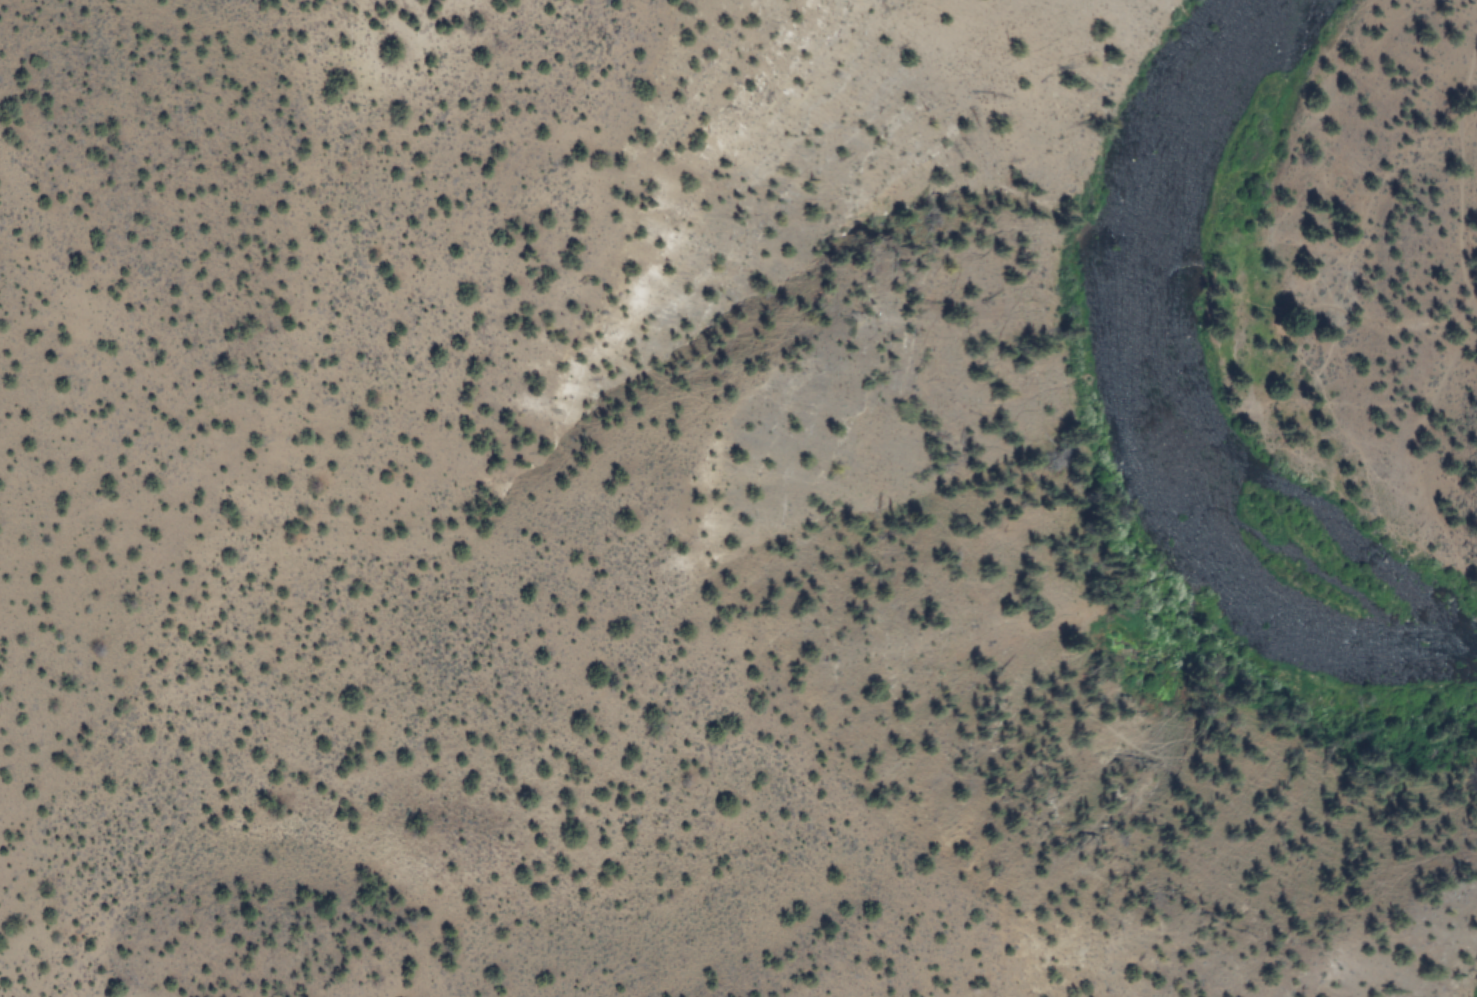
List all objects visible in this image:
river: (1158, 396)

